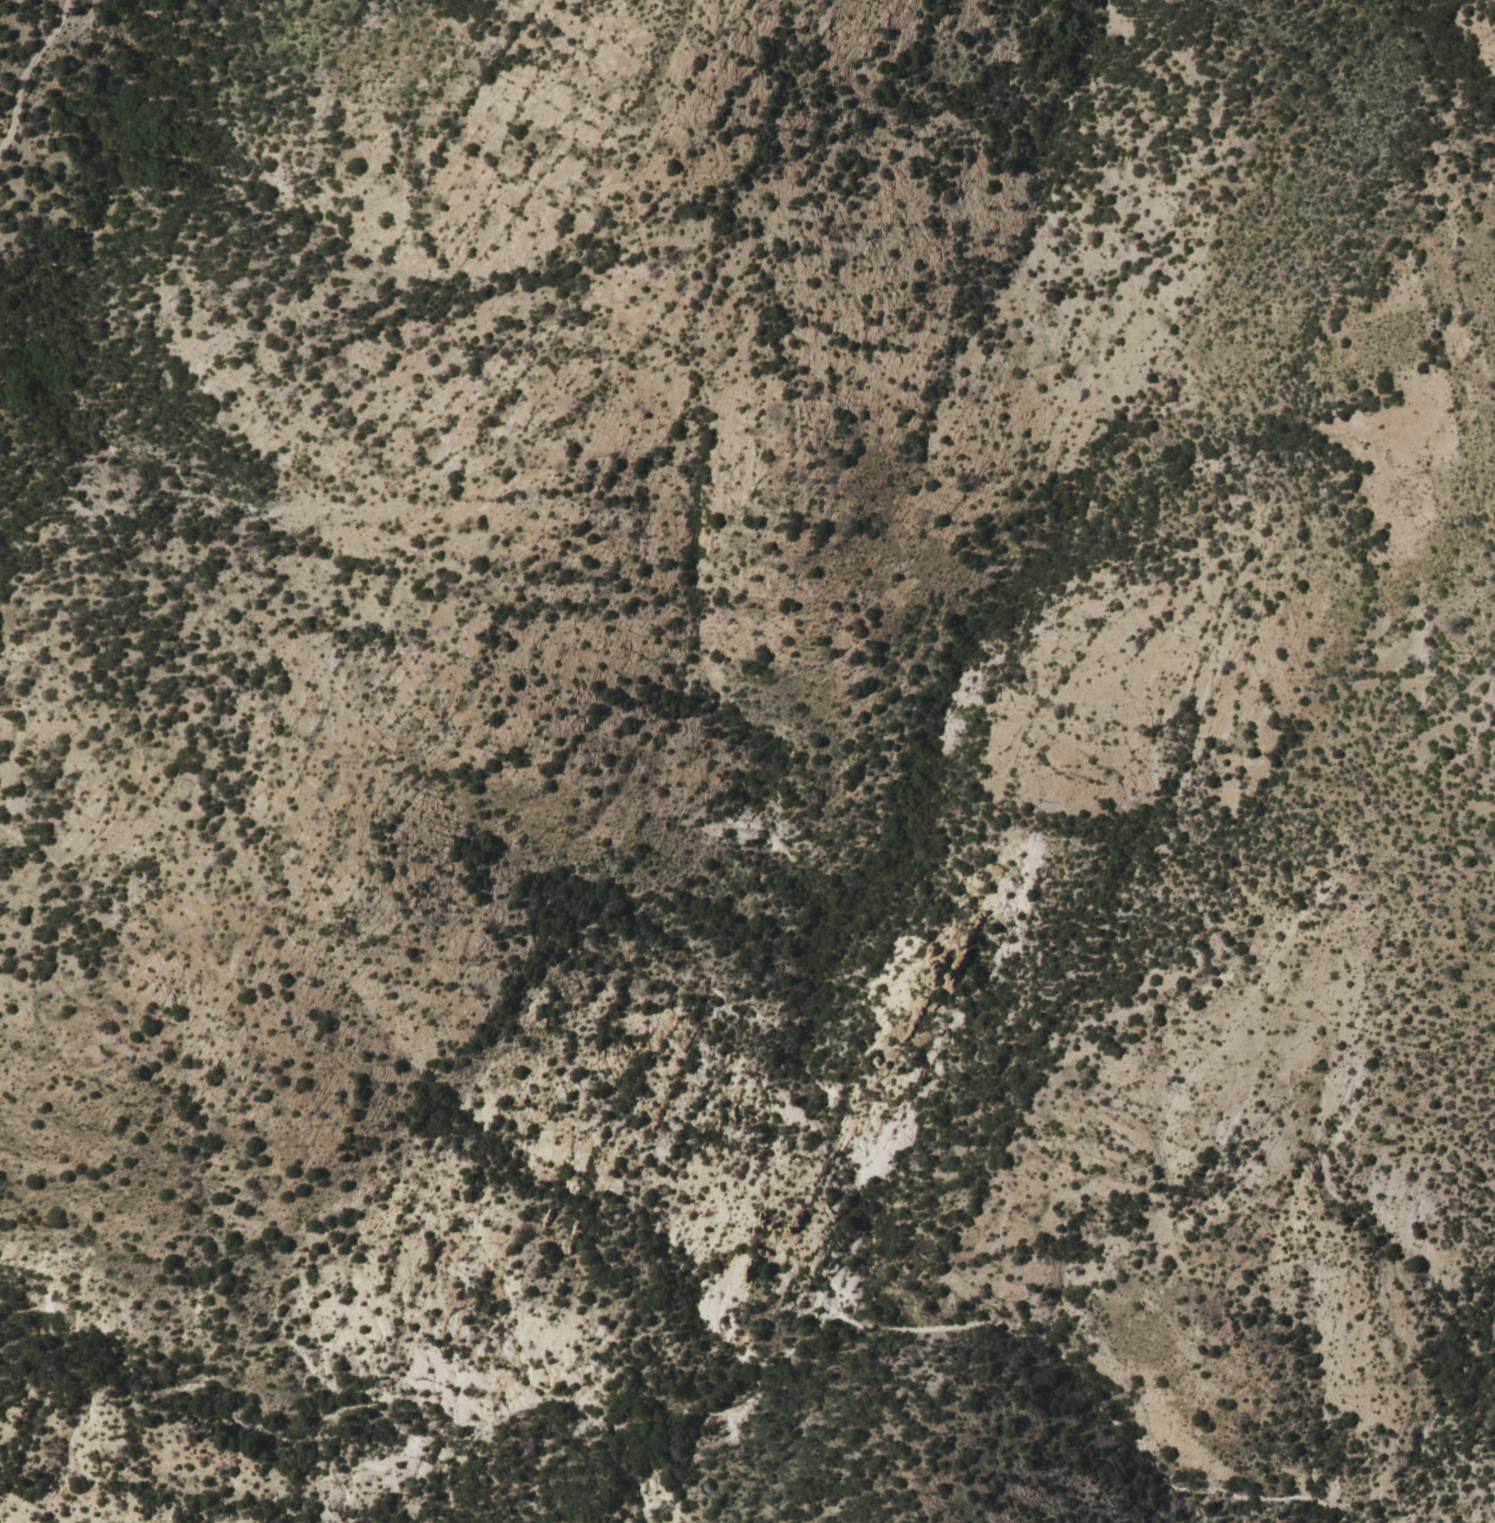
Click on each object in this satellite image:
road: (22, 63)

